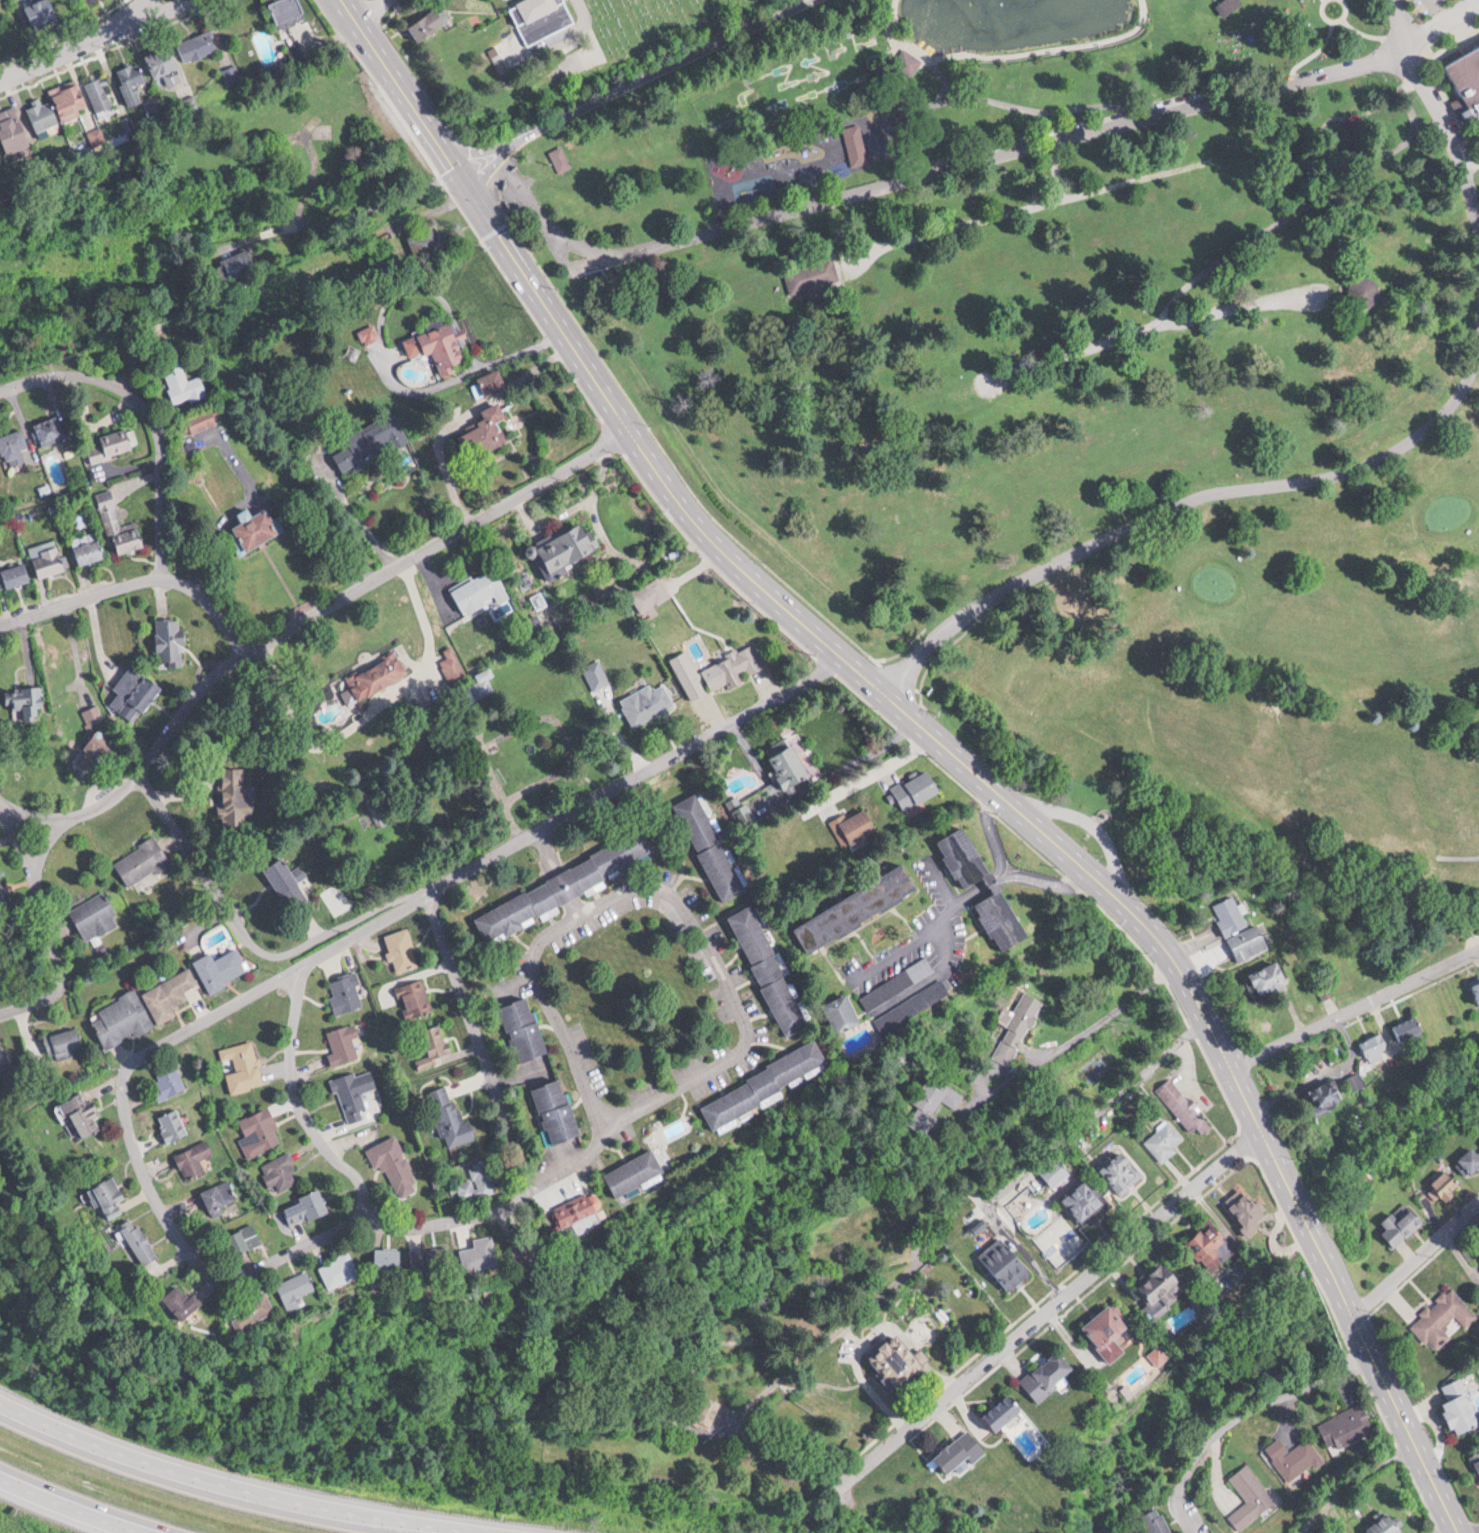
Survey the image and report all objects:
building: (1229, 6)
road: (1436, 8)
building: (40, 10)
building: (289, 11)
parking lot: (1418, 13)
road: (131, 17)
building: (541, 18)
road: (1394, 20)
road: (1437, 20)
building: (430, 24)
road: (94, 41)
building: (197, 45)
park: (537, 45)
building: (165, 62)
park: (1454, 65)
building: (233, 74)
park: (807, 79)
road: (628, 82)
building: (134, 84)
building: (1465, 84)
building: (100, 95)
building: (73, 104)
building: (44, 115)
building: (14, 133)
building: (100, 134)
road: (1452, 134)
building: (855, 144)
building: (0, 146)
building: (559, 158)
road: (1053, 170)
road: (926, 176)
road: (470, 190)
road: (1037, 201)
road: (1311, 201)
building: (424, 243)
building: (238, 263)
park: (1011, 272)
road: (1156, 324)
building: (370, 334)
building: (439, 345)
building: (489, 383)
building: (188, 387)
road: (149, 413)
building: (202, 420)
building: (490, 428)
building: (50, 429)
building: (14, 441)
building: (369, 442)
building: (111, 443)
road: (1180, 500)
building: (119, 525)
building: (258, 527)
road: (436, 541)
building: (565, 546)
building: (89, 547)
building: (50, 561)
building: (15, 575)
road: (136, 579)
building: (483, 588)
building: (651, 593)
building: (1080, 598)
building: (172, 640)
building: (734, 667)
building: (379, 675)
building: (484, 682)
building: (134, 692)
building: (23, 696)
building: (646, 702)
park: (1276, 751)
building: (790, 765)
road: (142, 766)
road: (873, 772)
building: (917, 789)
building: (234, 794)
road: (3, 804)
building: (855, 825)
road: (1093, 825)
building: (710, 846)
road: (48, 849)
road: (483, 860)
building: (142, 861)
road: (561, 872)
road: (1008, 874)
building: (969, 882)
building: (289, 885)
building: (565, 885)
road: (667, 892)
road: (1113, 892)
building: (2, 893)
building: (859, 907)
building: (94, 915)
road: (935, 926)
road: (50, 930)
road: (250, 938)
building: (1244, 941)
building: (403, 949)
road: (445, 951)
building: (222, 967)
building: (770, 969)
building: (901, 983)
building: (1477, 986)
building: (170, 992)
building: (346, 993)
building: (415, 999)
building: (917, 1006)
road: (1355, 1007)
building: (847, 1012)
building: (121, 1018)
building: (1411, 1028)
building: (523, 1029)
building: (1015, 1030)
building: (65, 1040)
building: (344, 1044)
building: (1379, 1045)
building: (433, 1046)
road: (1061, 1048)
building: (2, 1061)
building: (242, 1065)
building: (1357, 1081)
building: (168, 1083)
building: (773, 1086)
building: (933, 1094)
building: (1329, 1094)
building: (352, 1095)
road: (501, 1098)
road: (297, 1104)
building: (1185, 1105)
building: (556, 1114)
building: (82, 1116)
building: (452, 1118)
building: (173, 1124)
building: (260, 1131)
building: (1165, 1140)
road: (1055, 1146)
road: (585, 1157)
building: (194, 1158)
building: (1469, 1162)
building: (394, 1163)
building: (281, 1172)
building: (641, 1173)
building: (1122, 1173)
building: (485, 1176)
building: (1444, 1187)
building: (109, 1194)
building: (219, 1194)
building: (1085, 1197)
building: (310, 1206)
building: (1244, 1211)
building: (1401, 1222)
building: (567, 1227)
building: (247, 1239)
building: (142, 1240)
building: (1208, 1246)
building: (1478, 1248)
building: (1478, 1249)
road: (1414, 1252)
building: (491, 1253)
building: (422, 1258)
building: (1012, 1262)
road: (268, 1266)
building: (346, 1270)
building: (303, 1289)
building: (1159, 1294)
building: (190, 1302)
road: (1053, 1304)
building: (263, 1311)
building: (1445, 1317)
building: (1112, 1330)
building: (894, 1362)
building: (1042, 1373)
road: (773, 1383)
road: (1294, 1397)
building: (1459, 1404)
building: (707, 1409)
building: (1002, 1414)
building: (1345, 1426)
building: (958, 1451)
building: (1293, 1456)
building: (1476, 1458)
road: (231, 1483)
building: (1248, 1496)
road: (75, 1505)
building: (1154, 1521)
building: (1383, 1525)
road: (1445, 1528)
road: (1478, 1532)

